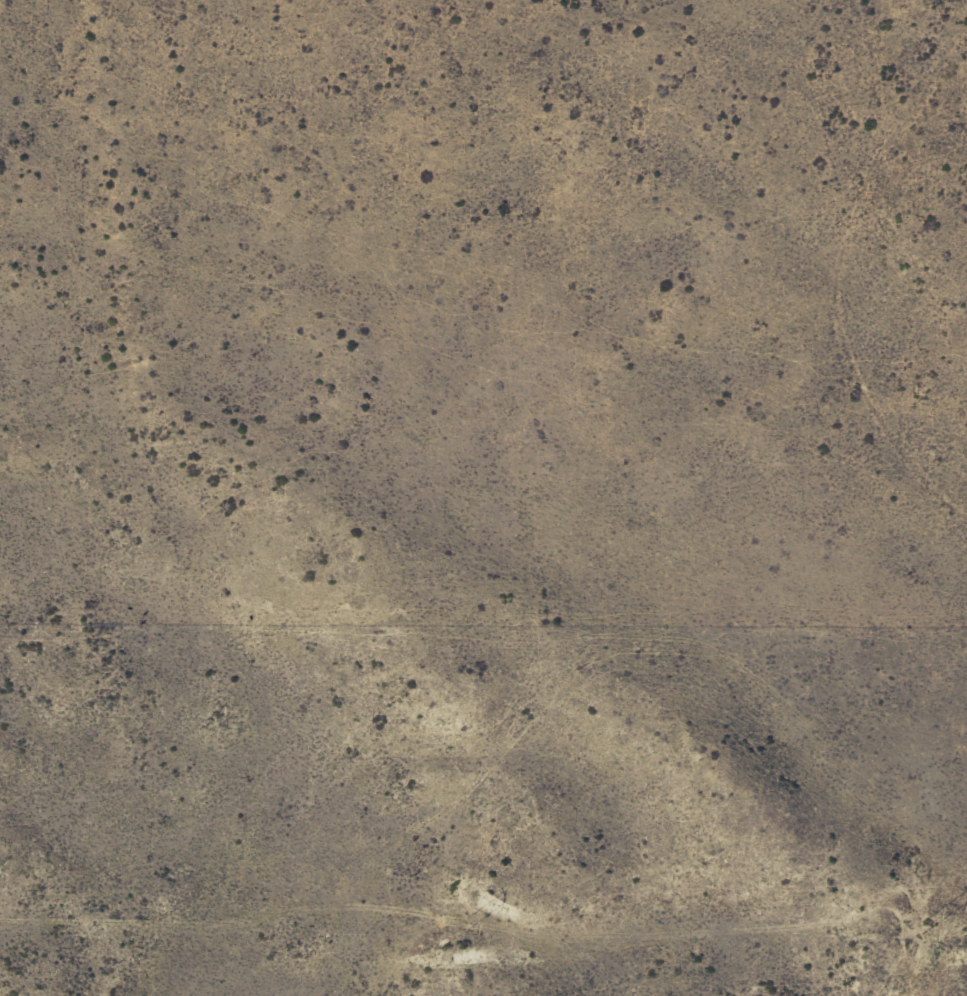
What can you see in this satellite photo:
power tower: (935, 927)
power tower: (468, 928)

